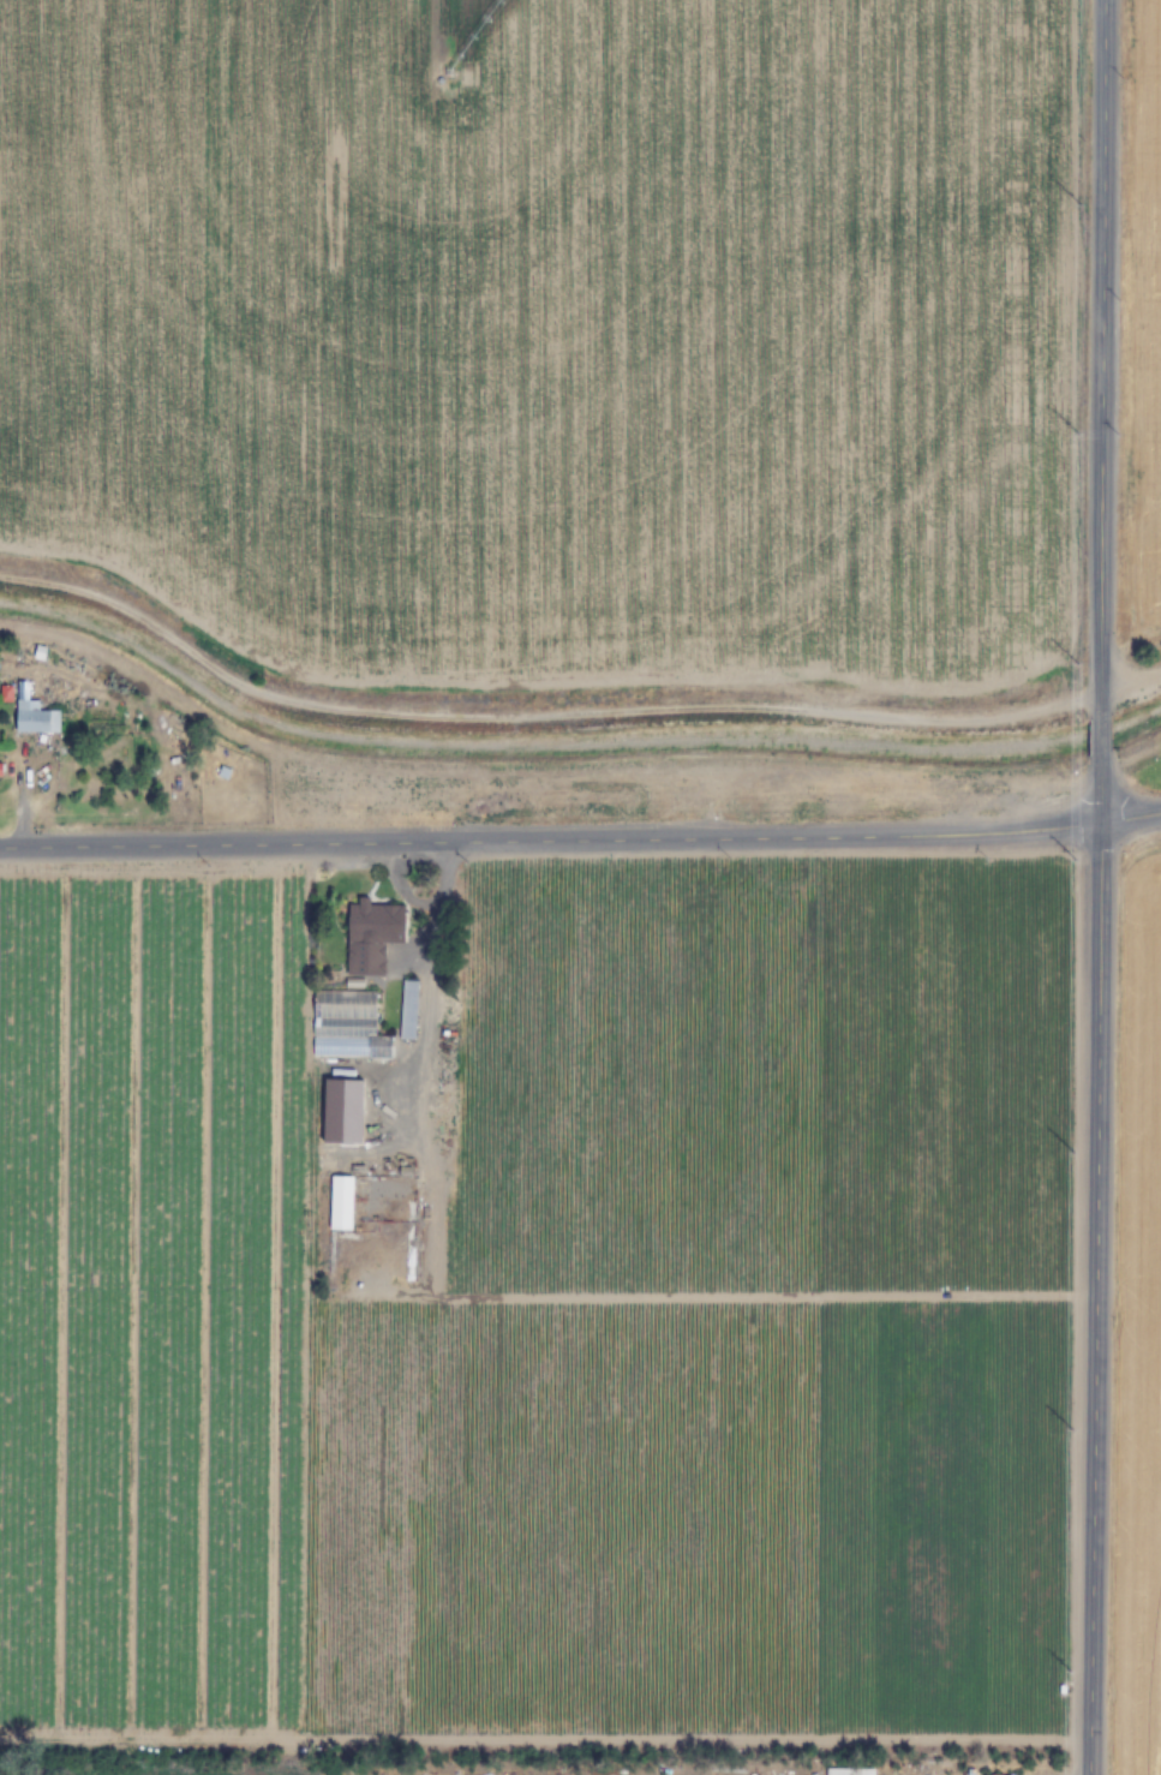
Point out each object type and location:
road: (1101, 351)
road: (1130, 674)
building: (35, 721)
road: (1099, 737)
road: (1101, 801)
road: (1131, 823)
road: (551, 837)
building: (372, 936)
building: (407, 1011)
building: (347, 1026)
building: (341, 1203)
building: (429, 1224)
road: (1096, 1302)

